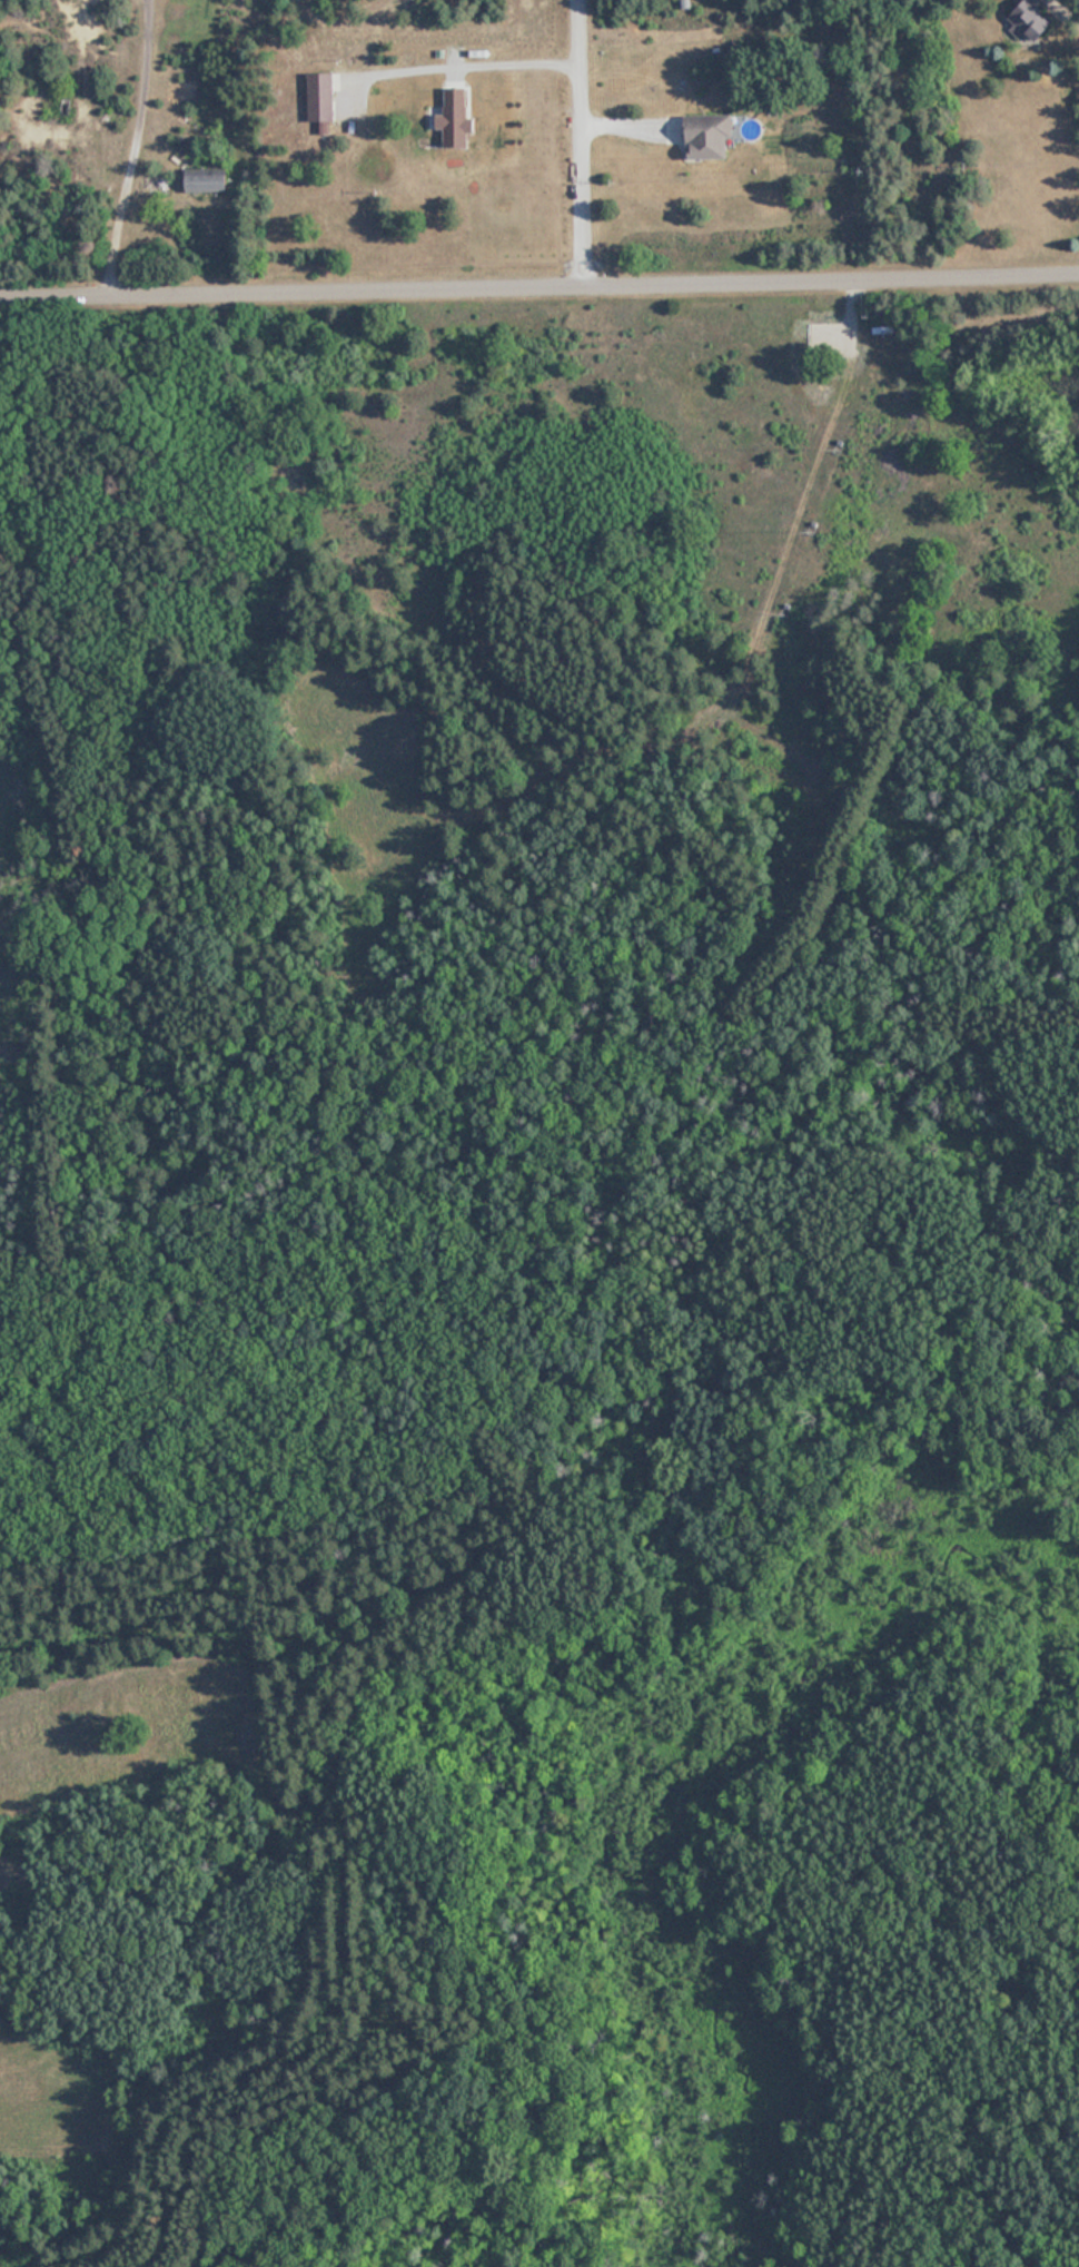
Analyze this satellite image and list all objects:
building: (1032, 19)
building: (709, 138)
road: (573, 144)
road: (115, 149)
building: (206, 170)
building: (157, 179)
road: (539, 288)
park: (541, 1272)

